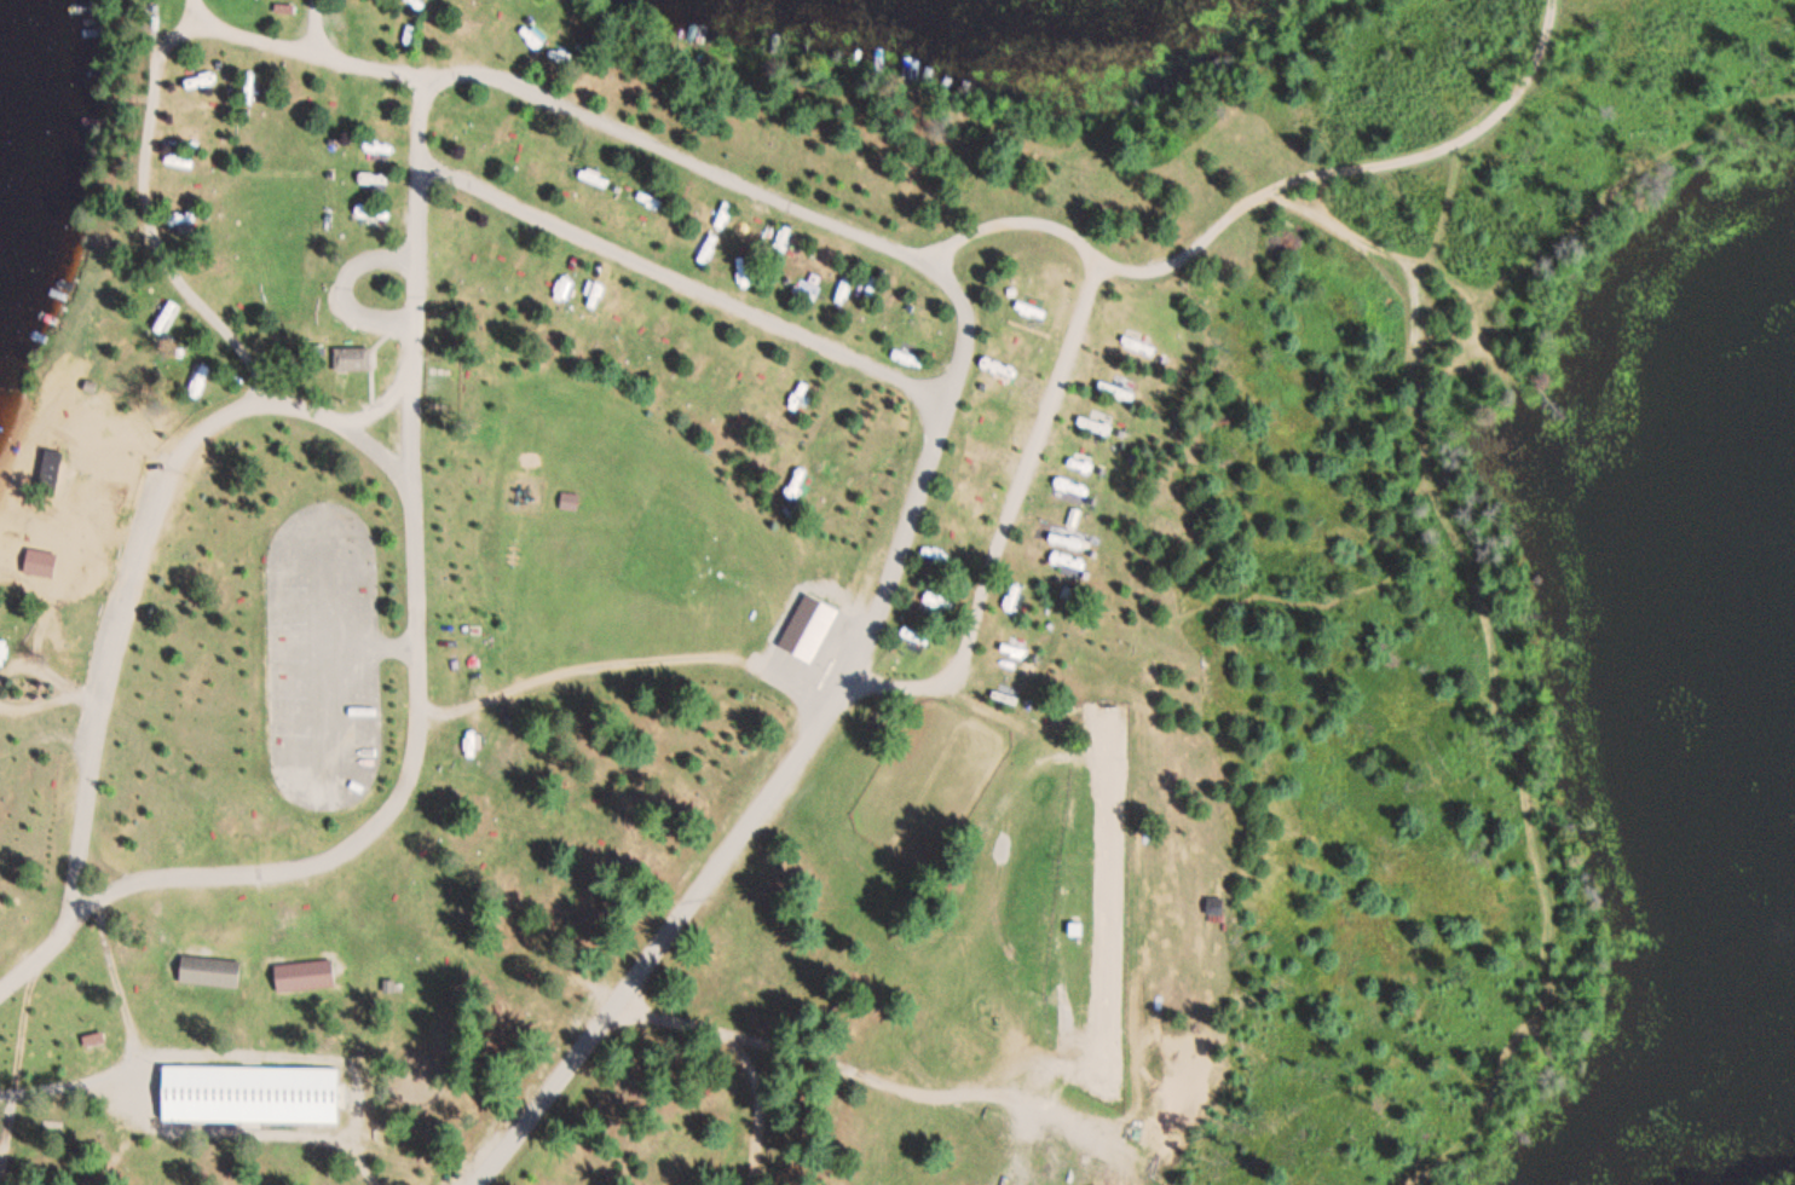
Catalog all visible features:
road: (634, 135)
road: (680, 277)
building: (169, 313)
building: (353, 359)
road: (382, 399)
building: (50, 476)
road: (143, 544)
building: (41, 561)
building: (1015, 596)
park: (781, 612)
building: (210, 970)
building: (305, 975)
building: (254, 1093)

